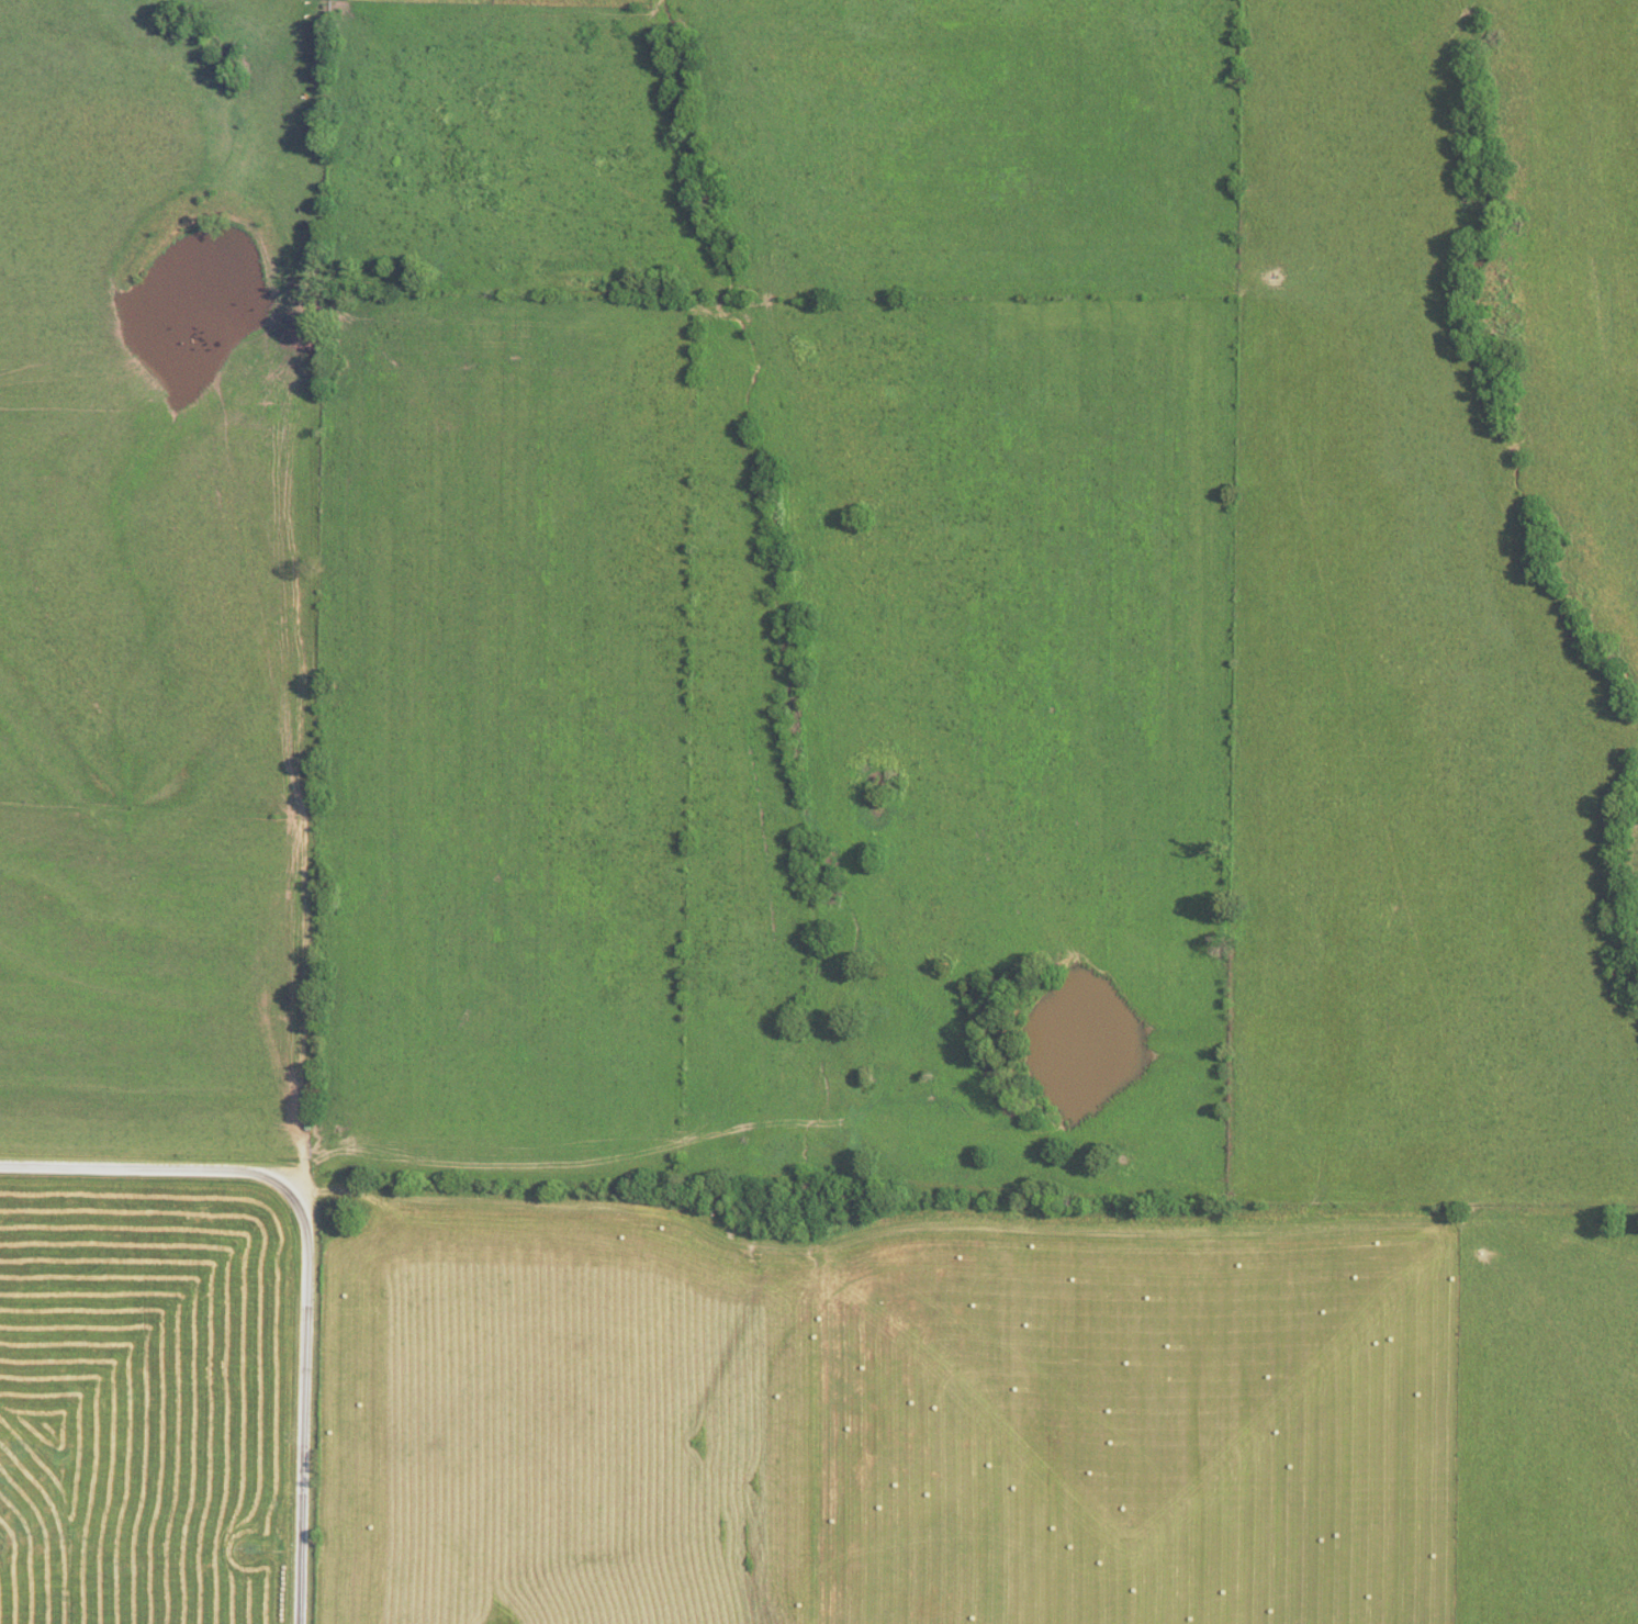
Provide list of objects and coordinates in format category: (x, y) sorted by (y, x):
road: (161, 1168)
road: (305, 1414)

